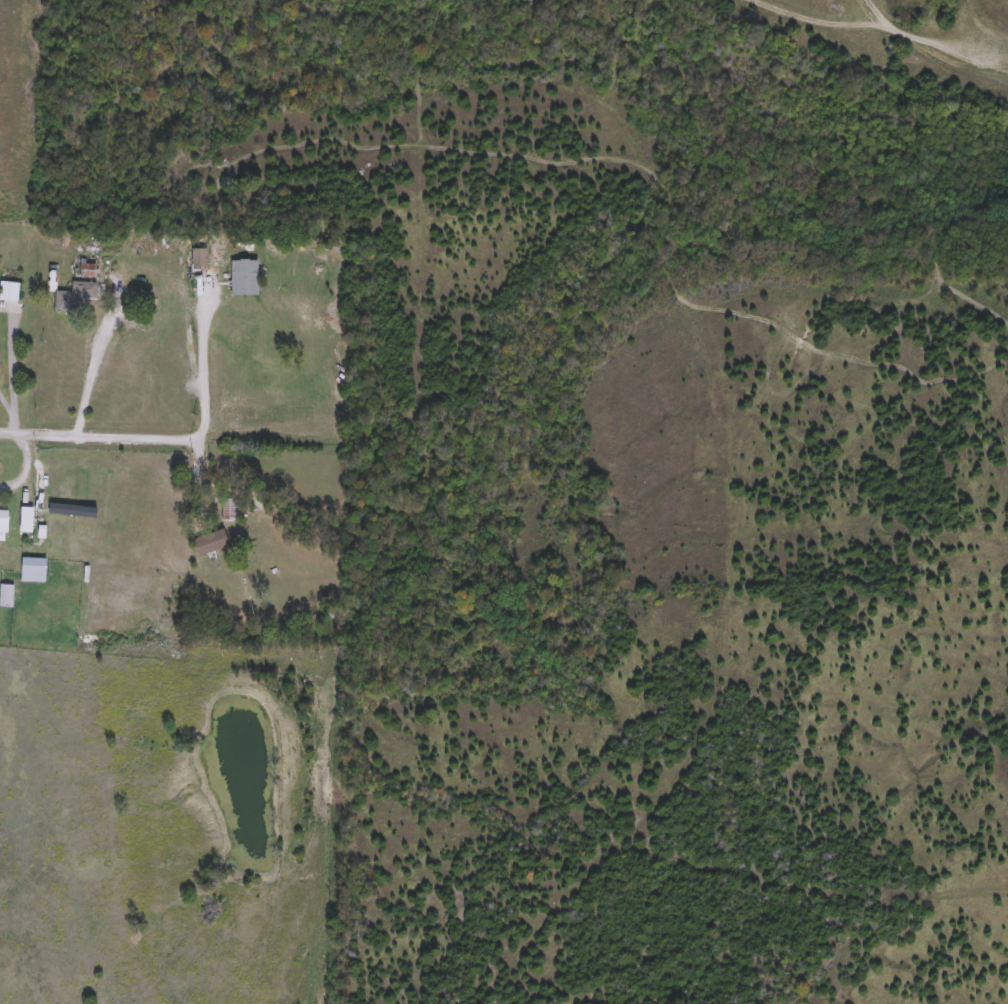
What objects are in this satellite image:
road: (949, 222)
building: (199, 258)
building: (245, 278)
building: (10, 295)
building: (75, 299)
road: (98, 354)
road: (202, 358)
road: (7, 411)
road: (100, 434)
road: (27, 467)
building: (228, 510)
building: (4, 520)
building: (26, 520)
building: (212, 543)
building: (33, 570)
building: (6, 597)

